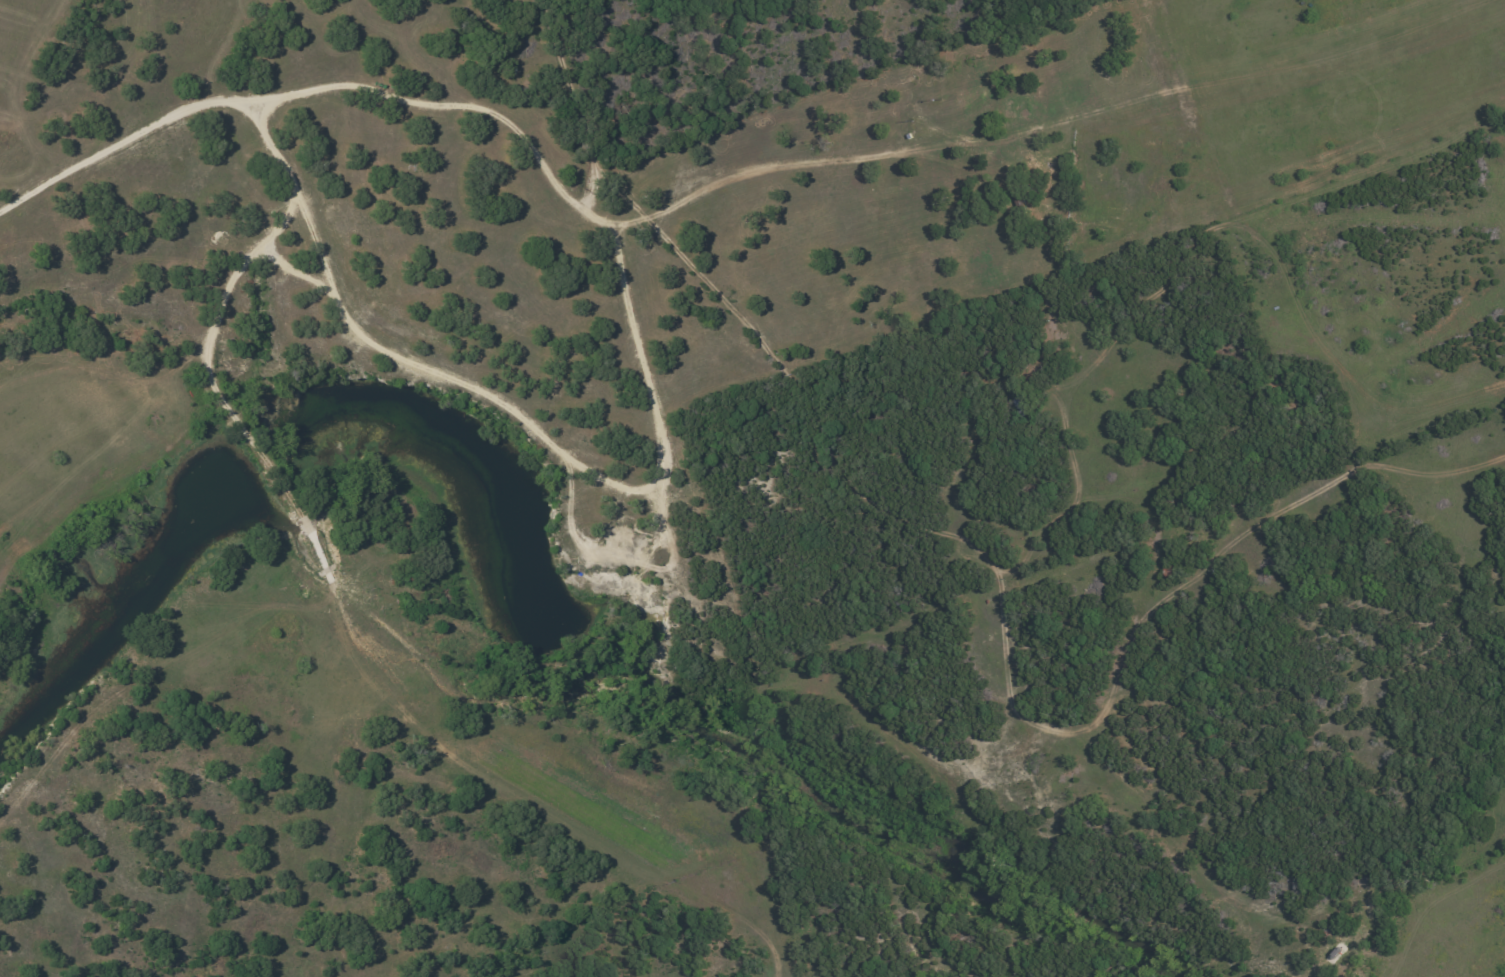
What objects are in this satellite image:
road: (131, 141)
road: (755, 169)
road: (301, 273)
road: (661, 454)
road: (262, 457)

